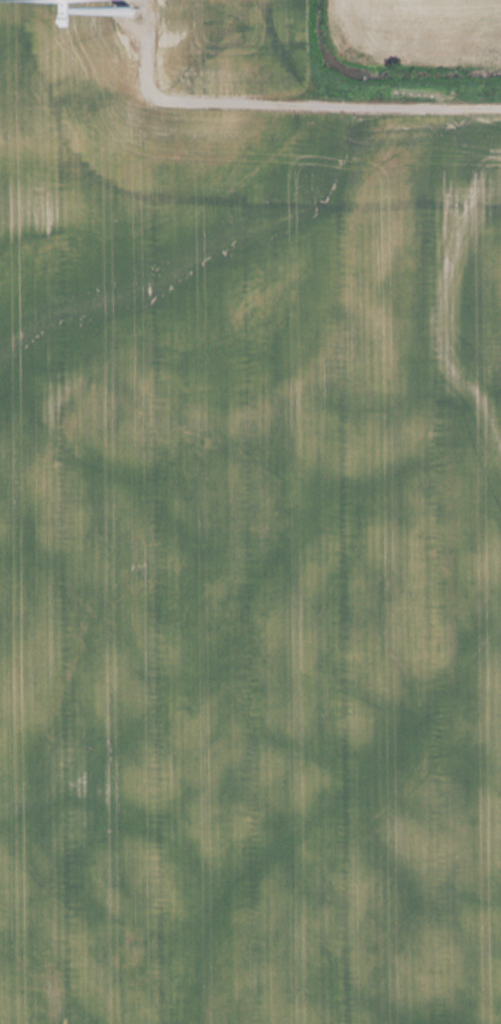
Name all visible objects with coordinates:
wind turbine: (97, 17)
road: (322, 114)

